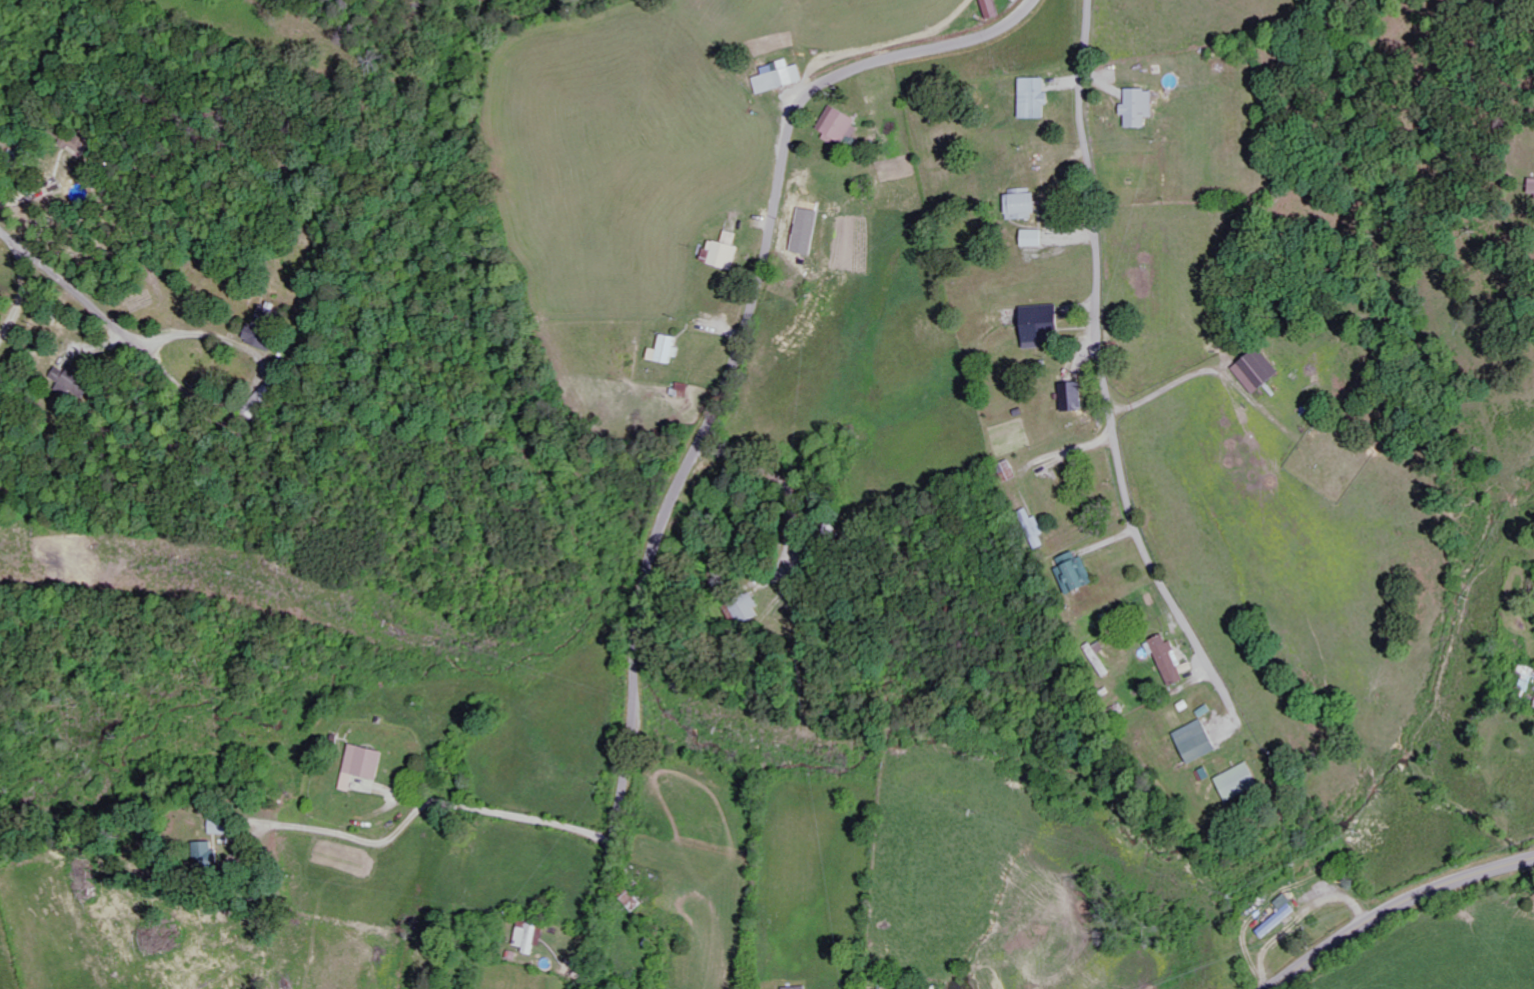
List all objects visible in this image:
building: (994, 9)
building: (782, 77)
building: (1036, 98)
building: (1143, 107)
building: (841, 124)
road: (862, 153)
building: (1533, 189)
building: (809, 231)
building: (1035, 238)
building: (725, 251)
road: (66, 288)
building: (1043, 325)
building: (267, 328)
building: (667, 350)
road: (1107, 366)
building: (1261, 371)
building: (77, 380)
building: (684, 389)
building: (273, 391)
building: (1075, 397)
road: (711, 419)
building: (1037, 528)
building: (1078, 573)
building: (1170, 660)
building: (1528, 677)
building: (1199, 742)
building: (365, 765)
building: (1241, 782)
building: (368, 783)
building: (221, 824)
building: (205, 848)
road: (1394, 907)
building: (1283, 916)
building: (529, 937)
building: (793, 988)

